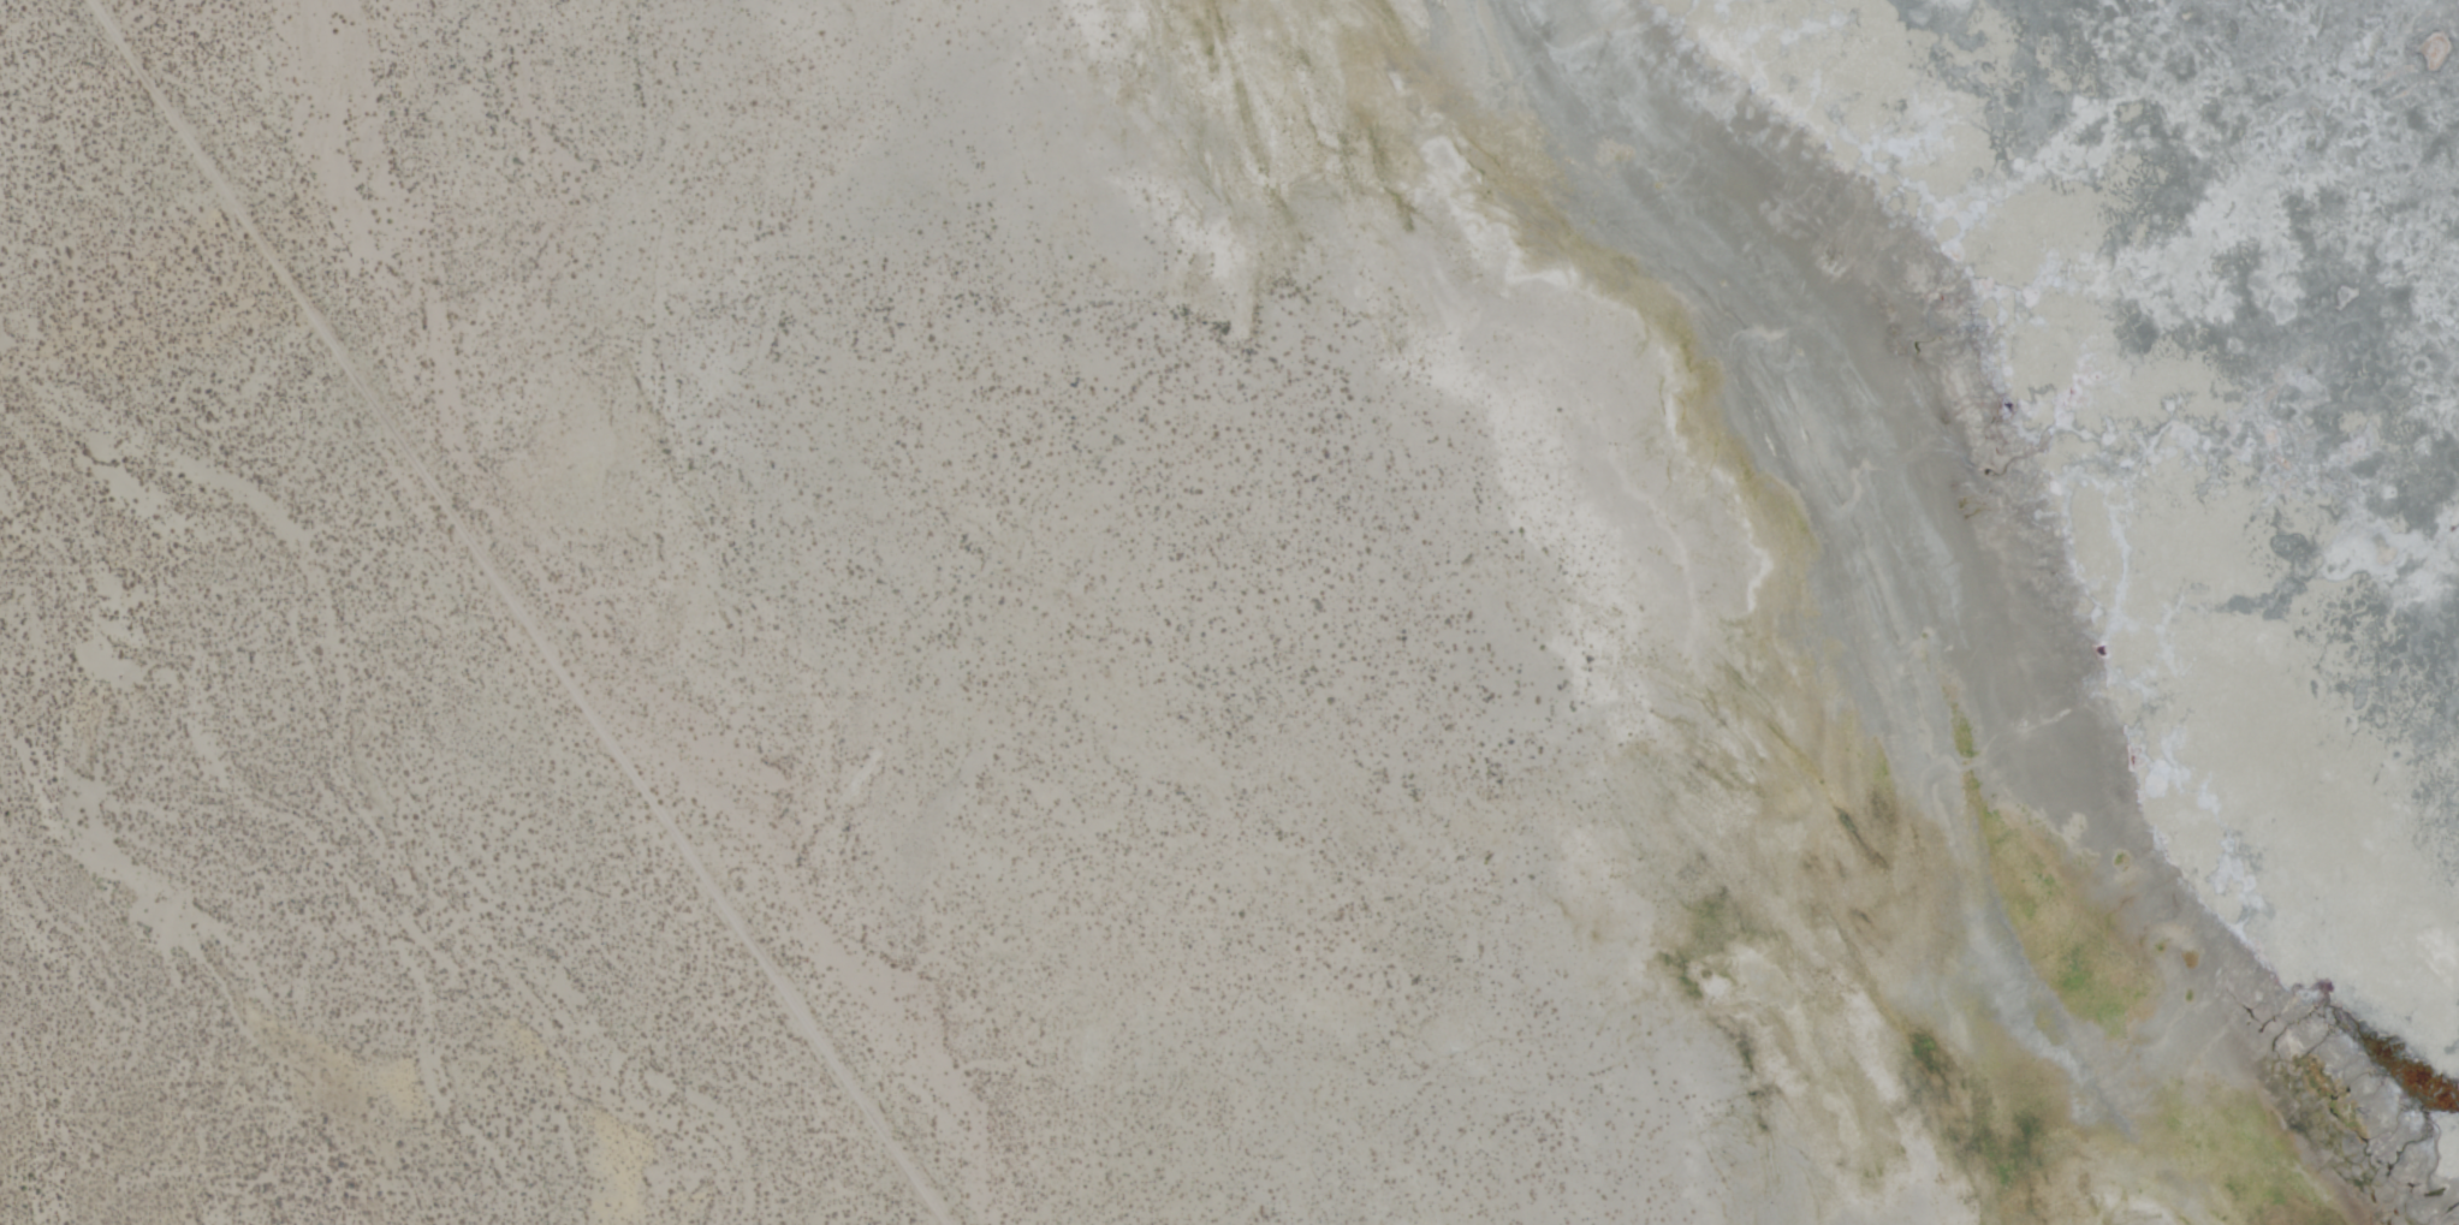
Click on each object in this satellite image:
road: (509, 611)

